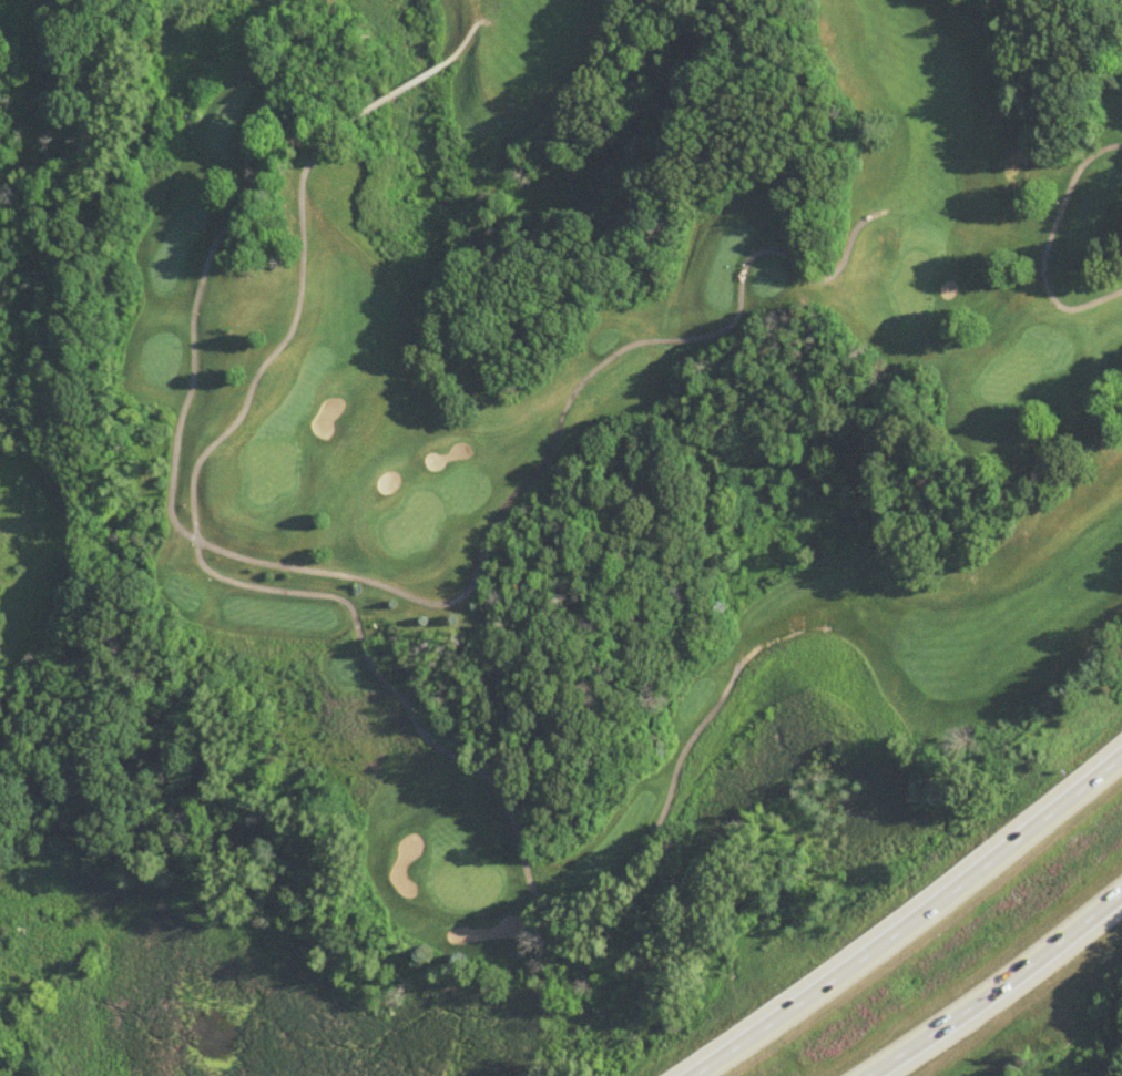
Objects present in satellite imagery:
road: (1045, 239)
park: (596, 451)
road: (379, 581)
road: (435, 746)
road: (916, 925)
road: (1002, 987)

